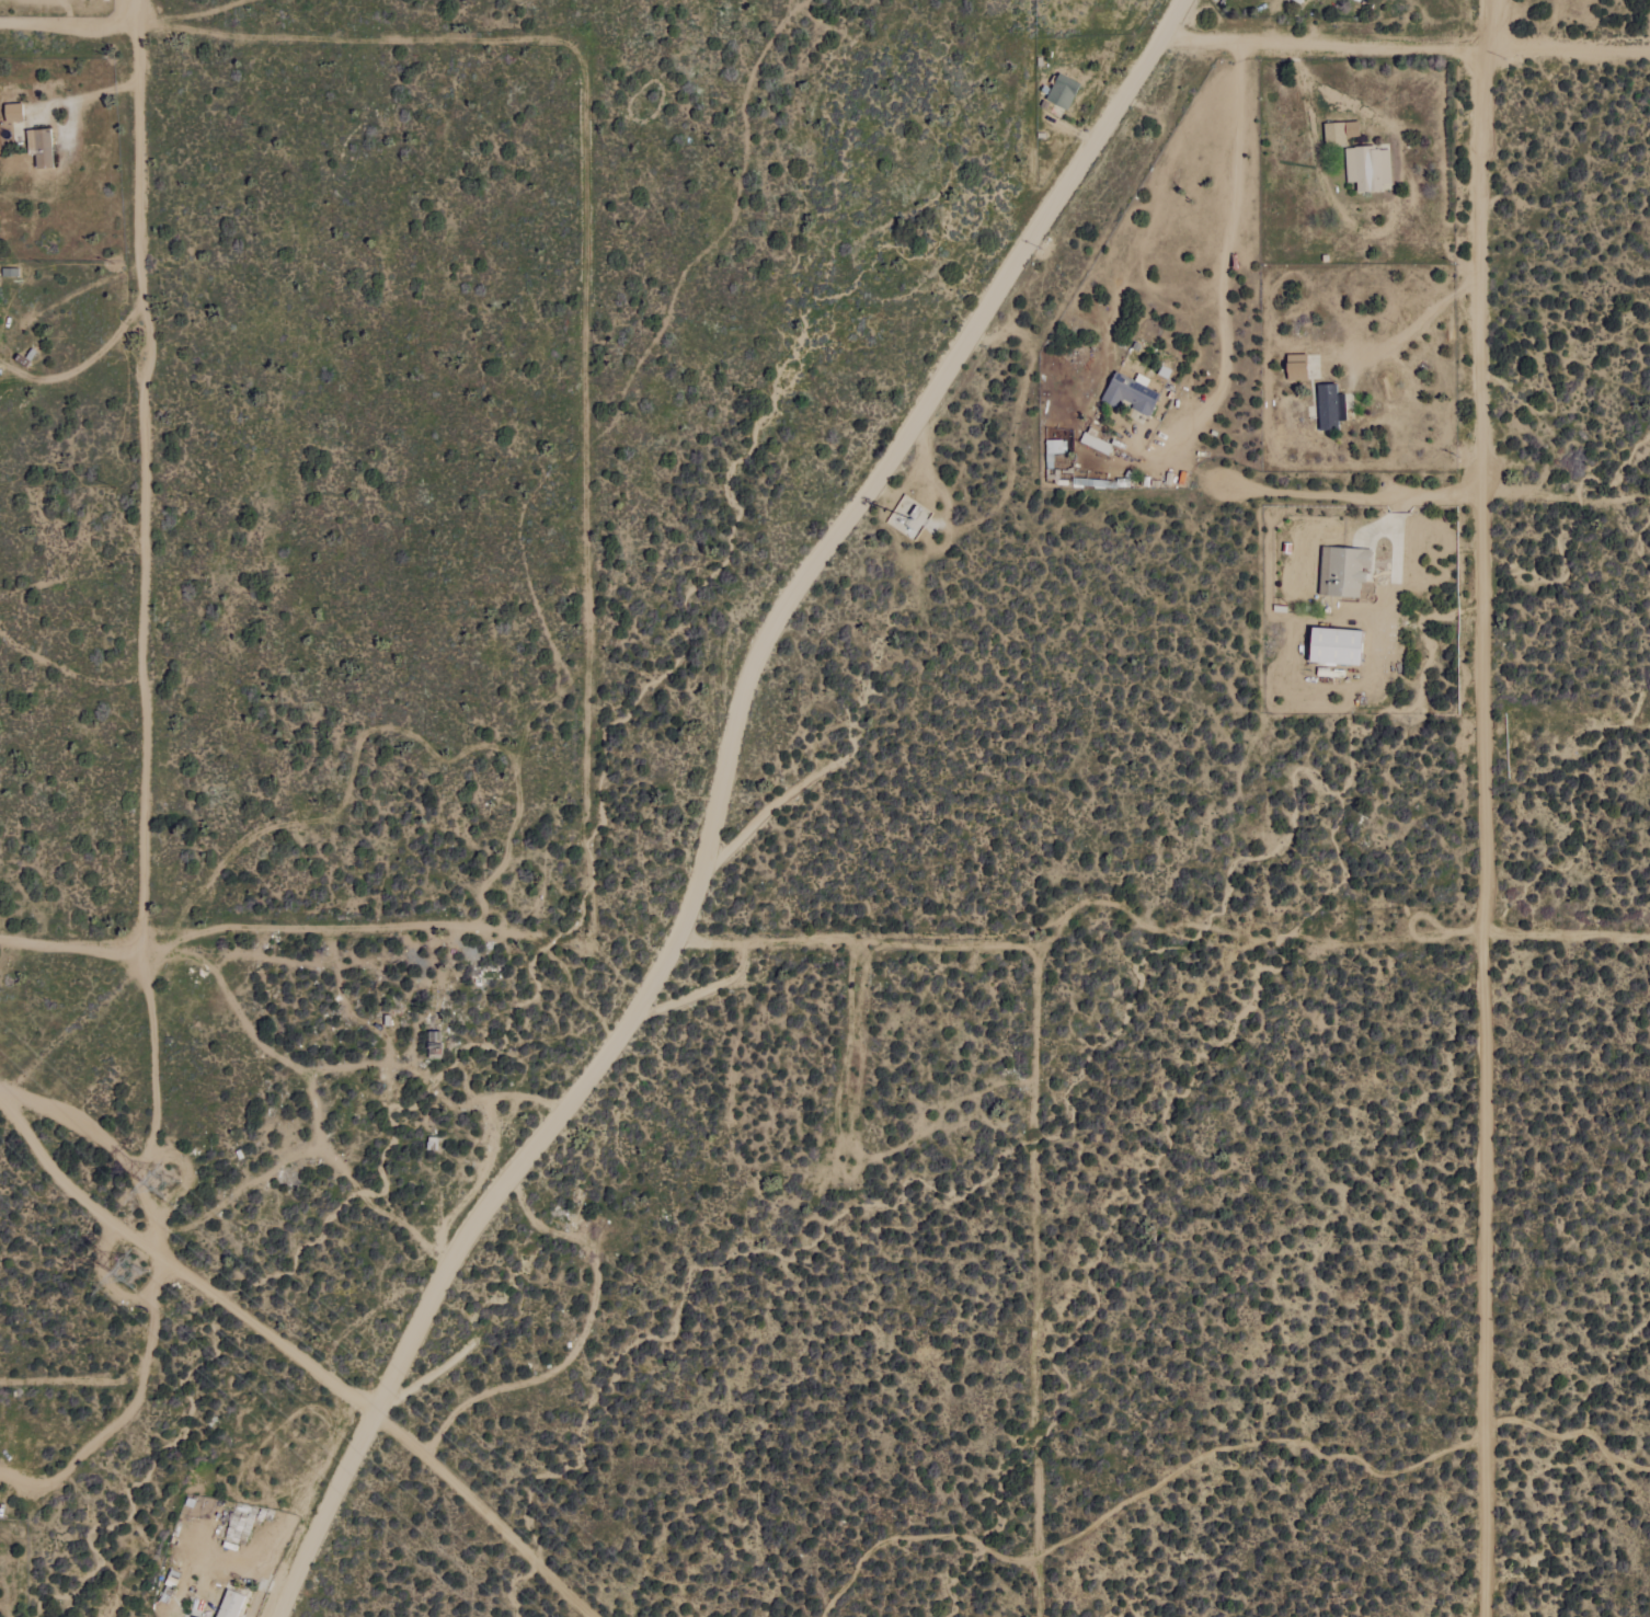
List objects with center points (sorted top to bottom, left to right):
building: (1297, 1)
road: (68, 25)
road: (1406, 48)
road: (1325, 91)
building: (1061, 92)
road: (84, 95)
building: (39, 147)
building: (1367, 169)
road: (1227, 236)
road: (1419, 322)
road: (81, 367)
building: (1128, 393)
building: (1329, 408)
building: (1092, 443)
building: (1053, 450)
road: (145, 474)
road: (1350, 494)
building: (1341, 571)
building: (1333, 645)
road: (720, 800)
road: (1480, 807)
road: (293, 928)
road: (70, 949)
power tower: (157, 1185)
power tower: (134, 1274)
road: (296, 1356)
building: (229, 1604)

